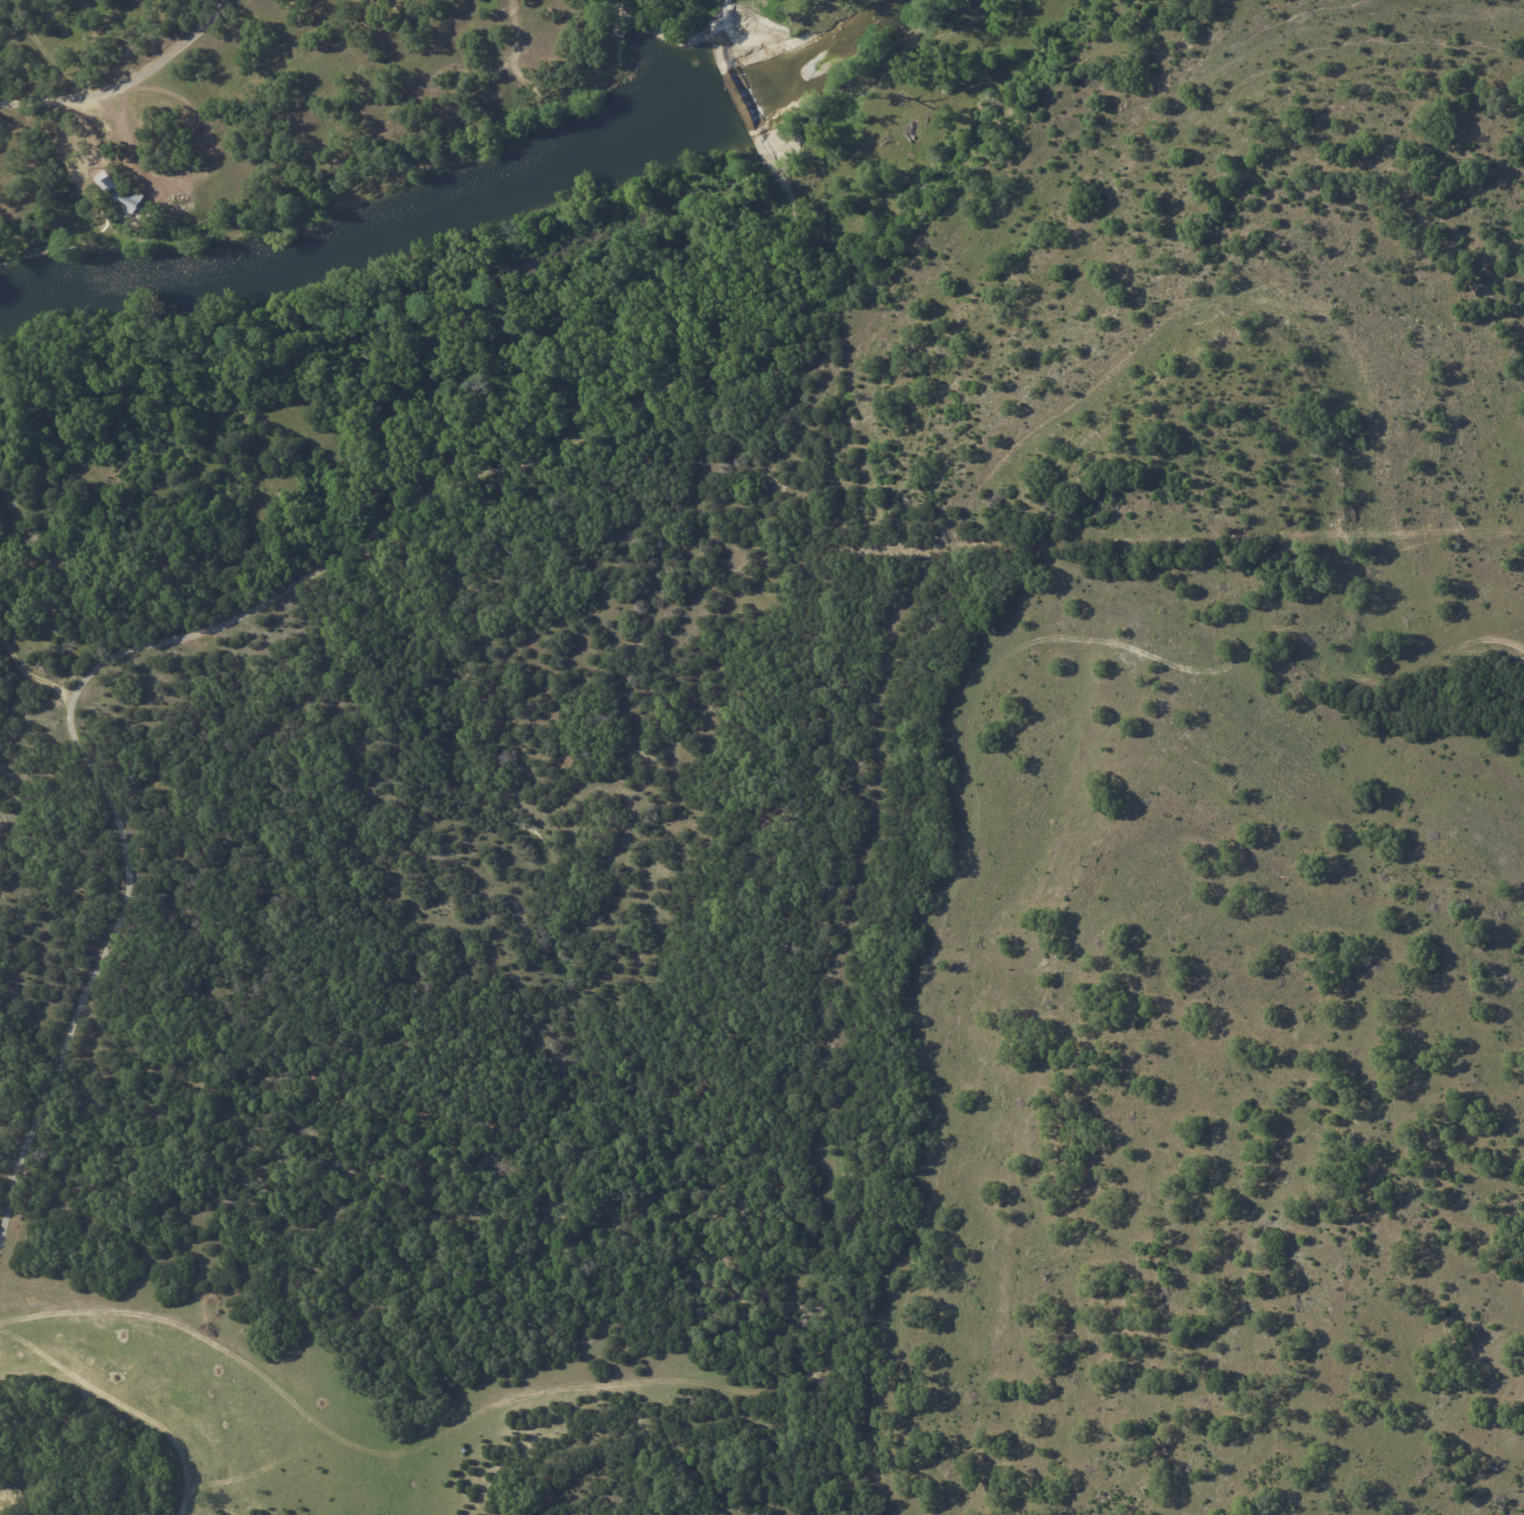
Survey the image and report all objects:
road: (126, 82)

